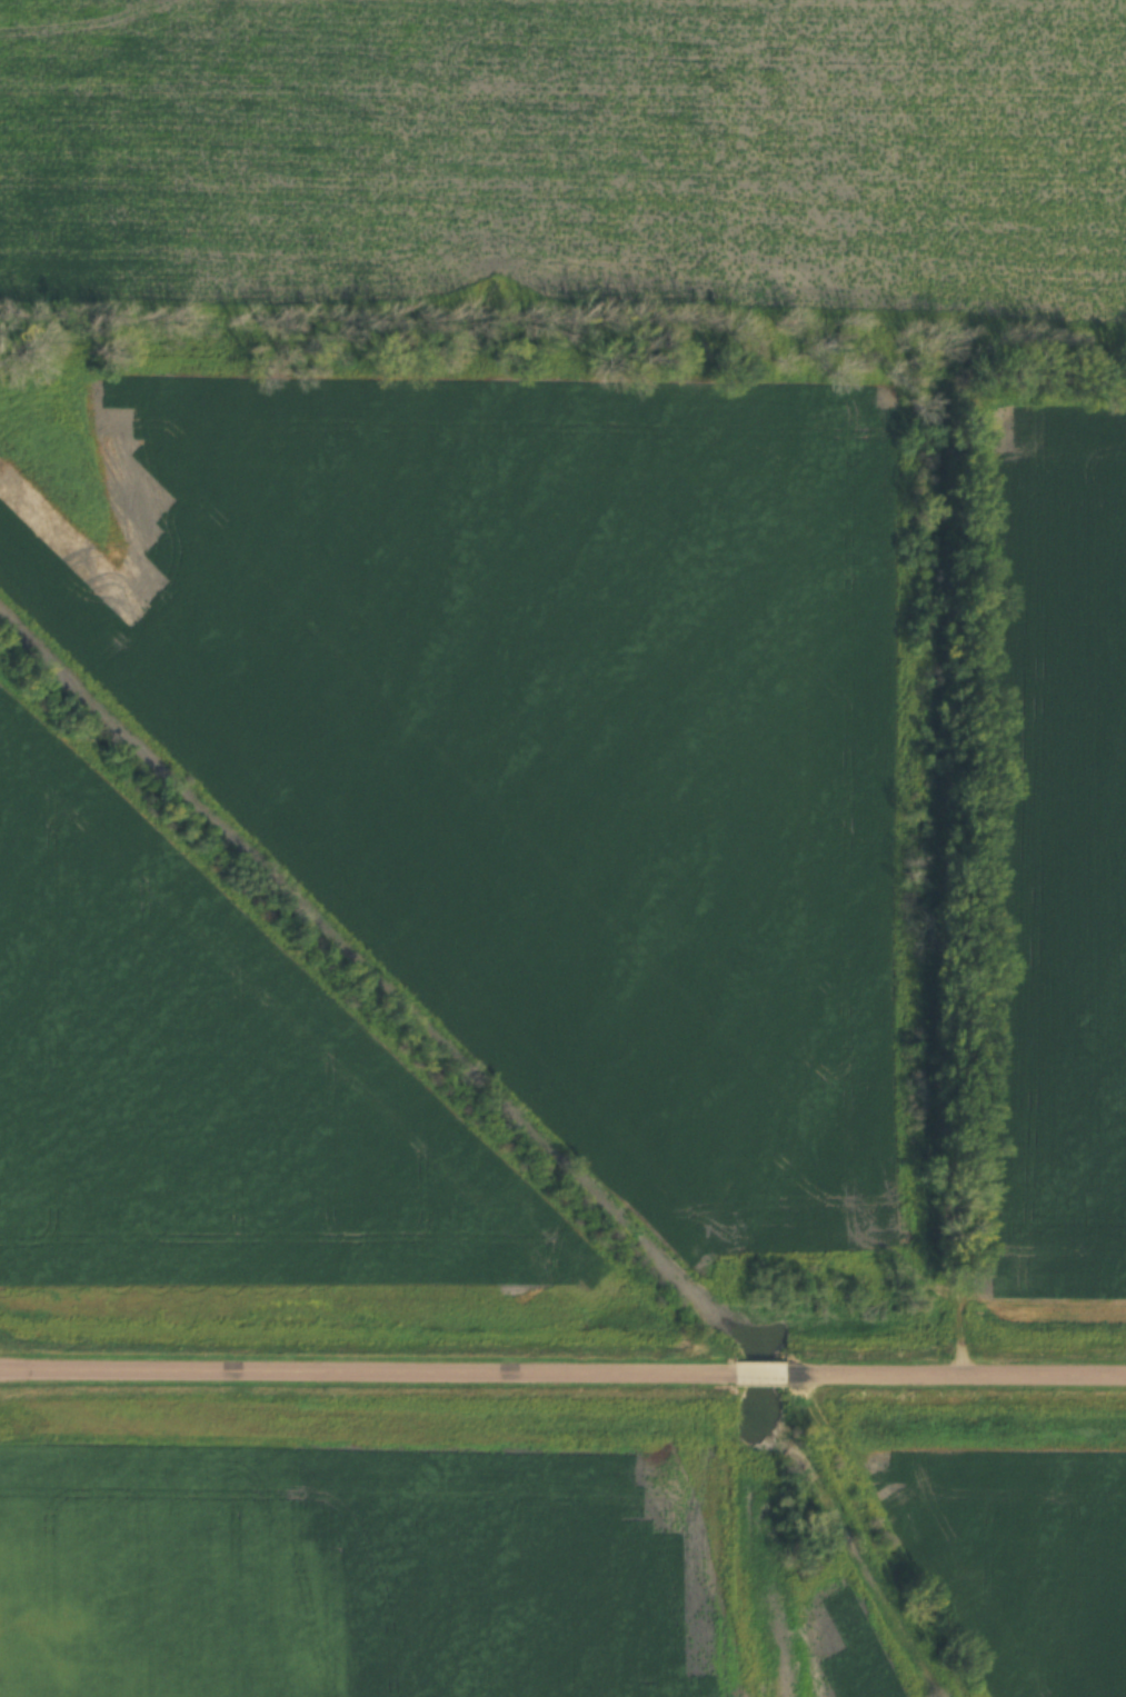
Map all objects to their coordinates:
road: (370, 1371)
road: (763, 1376)
road: (954, 1377)

